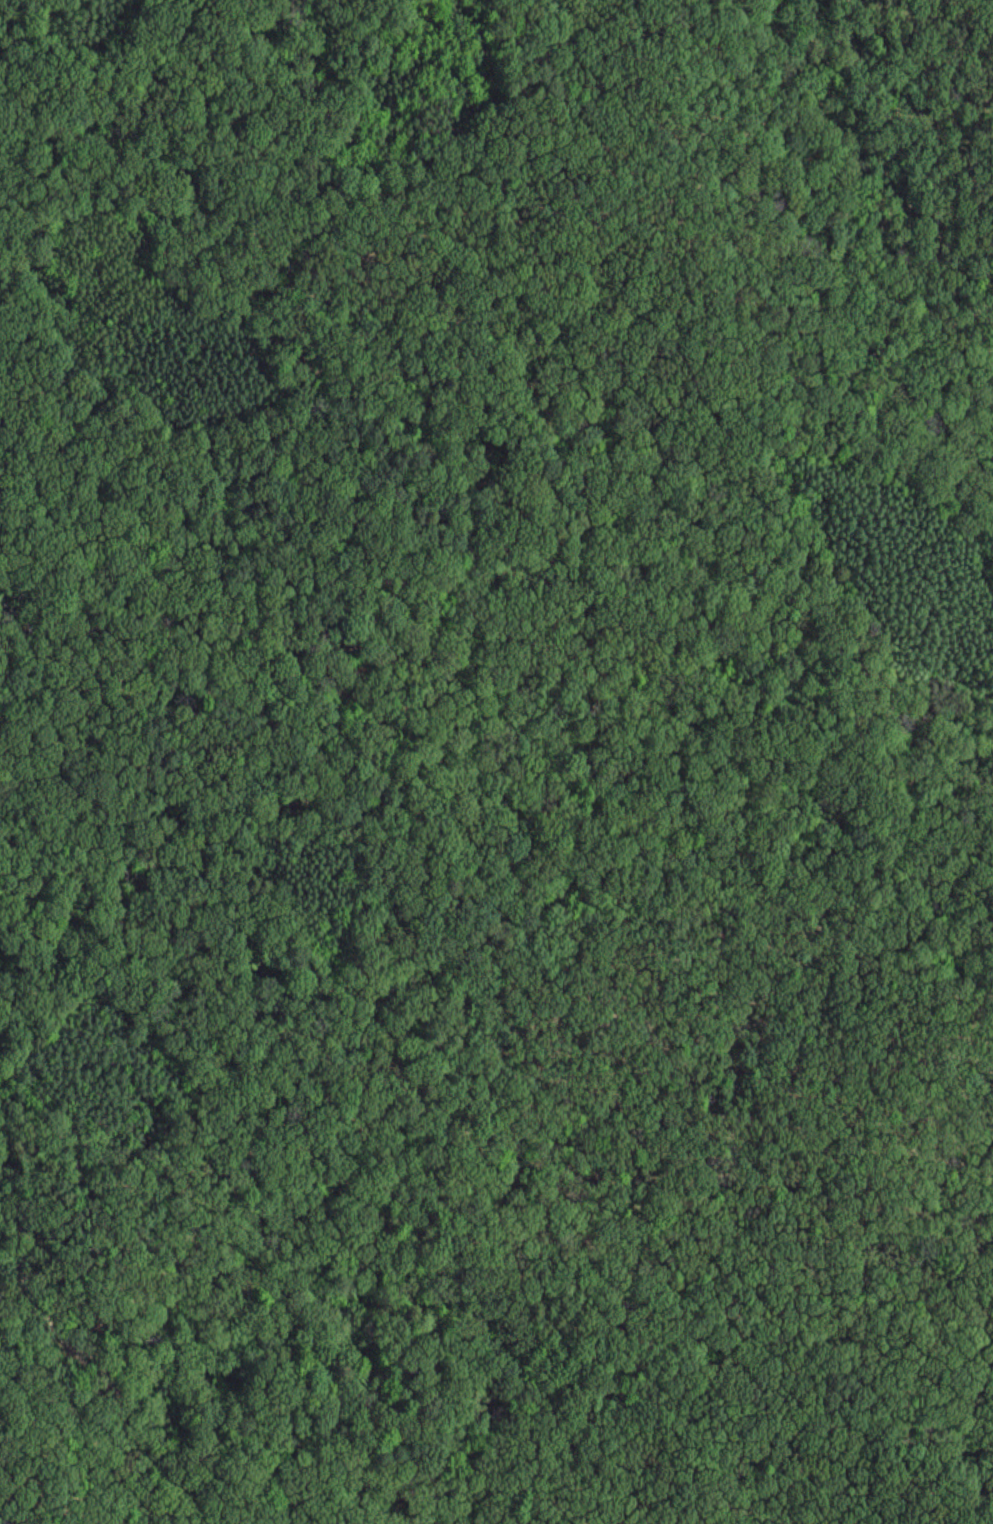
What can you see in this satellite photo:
road: (836, 216)
road: (79, 1351)

